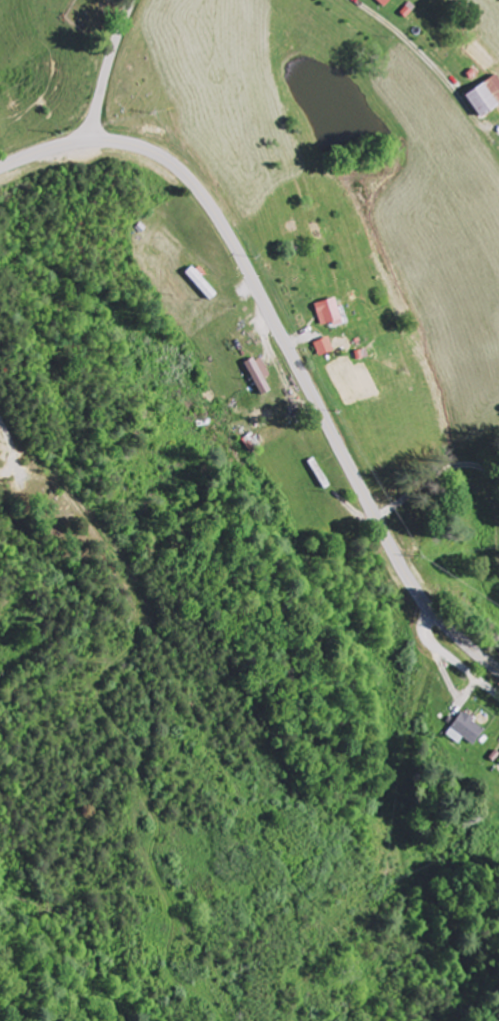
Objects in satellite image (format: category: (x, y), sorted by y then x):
building: (384, 2)
road: (106, 69)
building: (485, 97)
building: (329, 314)
road: (285, 344)
building: (324, 347)
building: (260, 375)
road: (452, 659)
building: (467, 731)

